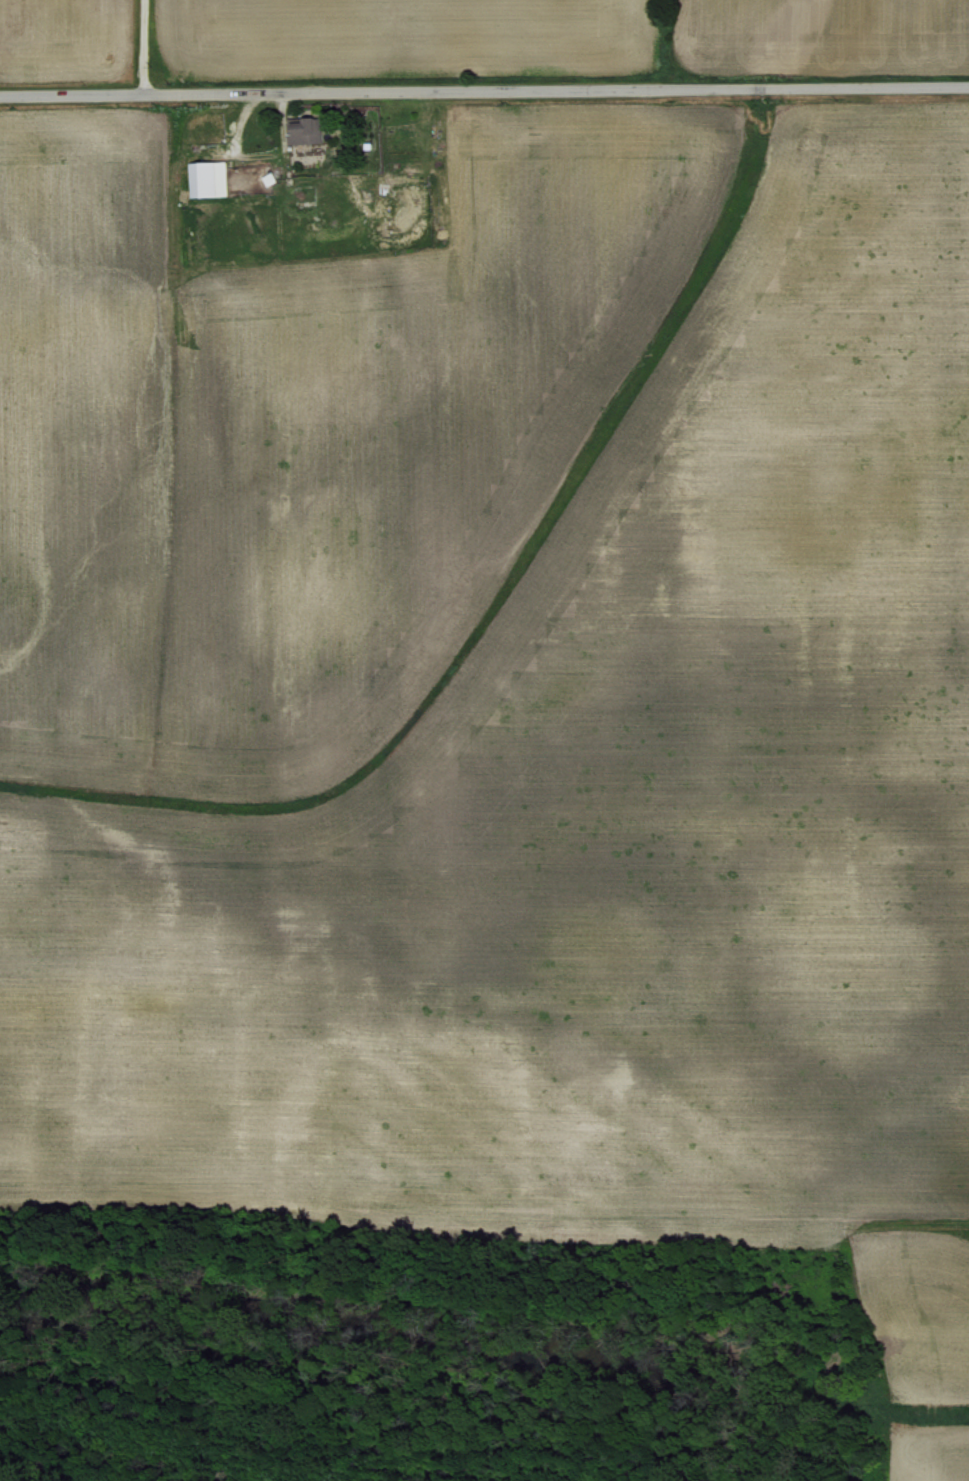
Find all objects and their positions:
road: (140, 47)
road: (484, 91)
building: (306, 131)
building: (207, 178)

